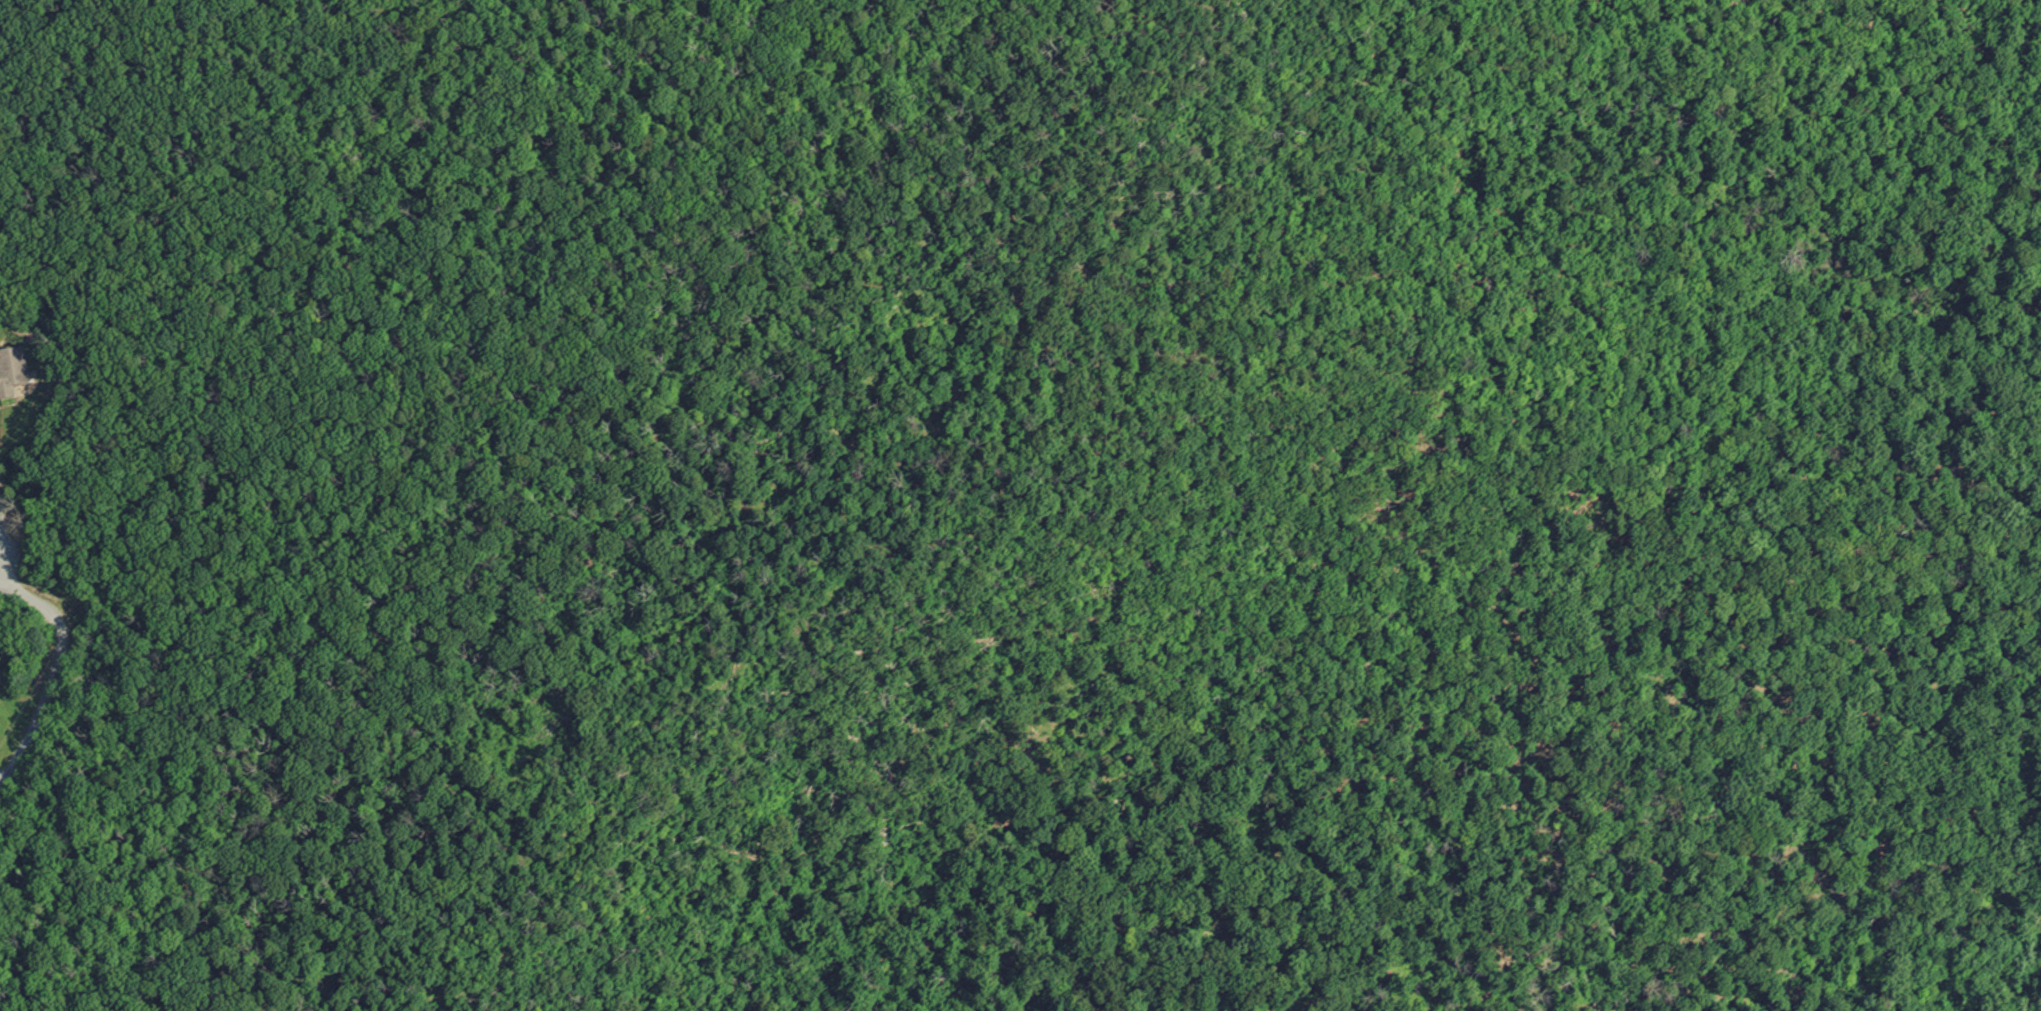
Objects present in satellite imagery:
building: (13, 372)
road: (3, 515)
road: (627, 535)
road: (56, 672)
building: (2, 677)

